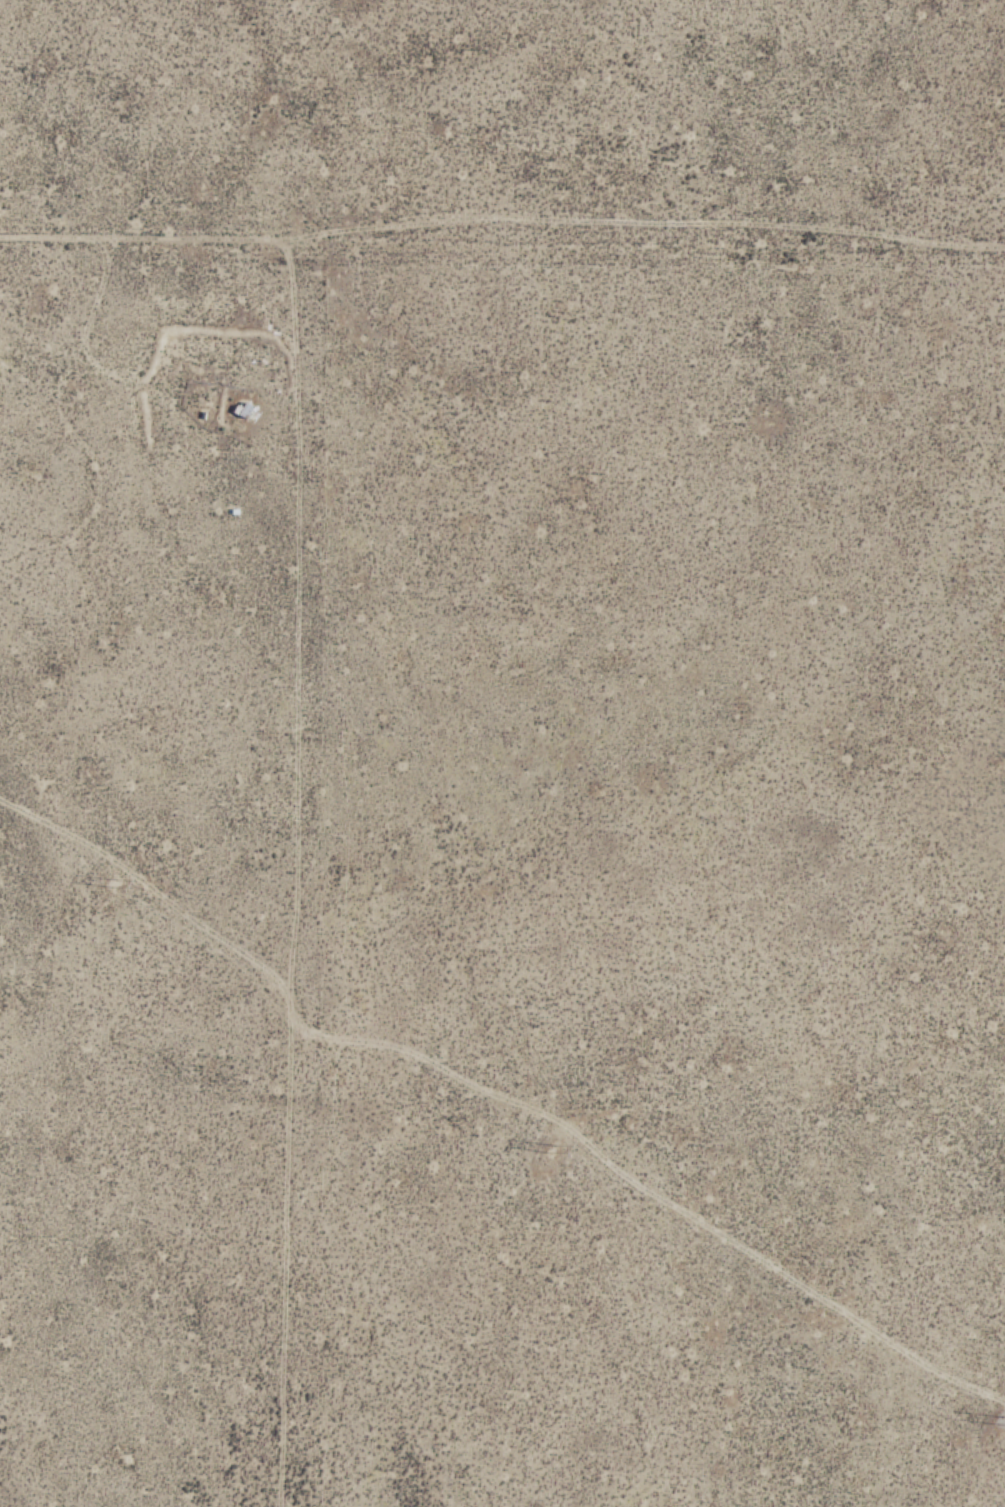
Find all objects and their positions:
road: (501, 217)
road: (289, 269)
power tower: (114, 883)
road: (305, 904)
power tower: (552, 1145)
power tower: (996, 1415)

